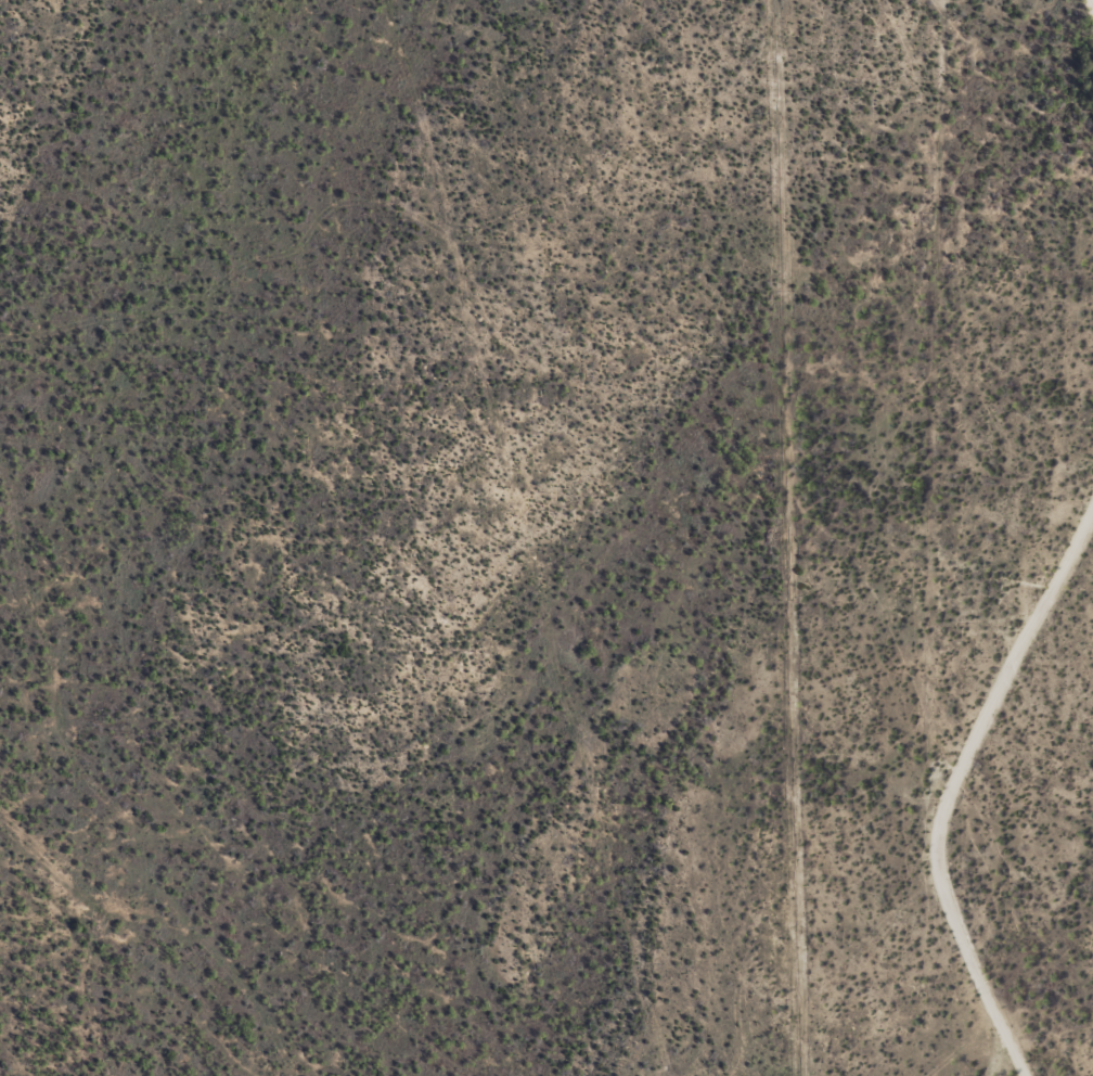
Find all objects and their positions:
road: (1086, 13)
road: (960, 802)

